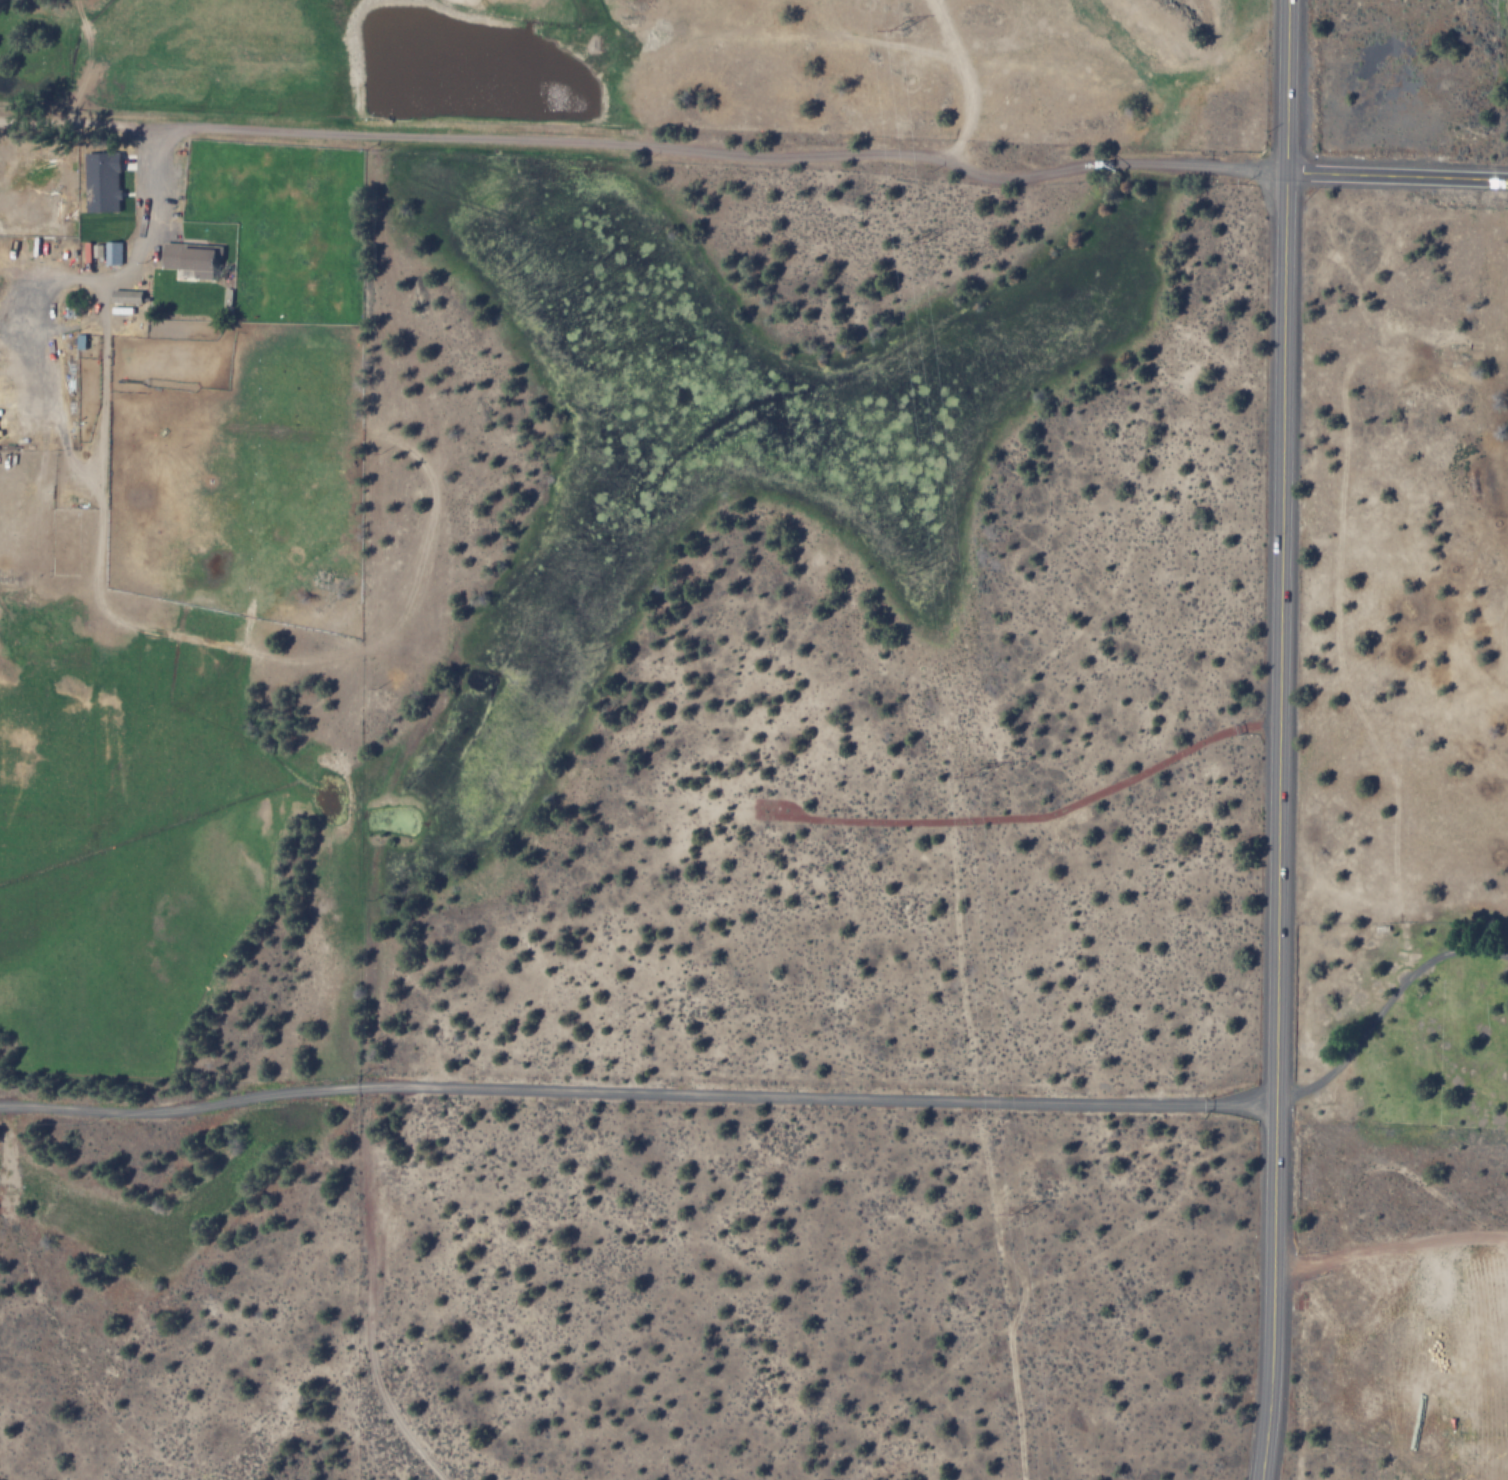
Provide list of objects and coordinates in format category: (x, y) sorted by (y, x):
power tower: (892, 29)
crop: (707, 65)
road: (719, 155)
road: (1397, 177)
building: (105, 182)
power tower: (910, 242)
building: (113, 253)
building: (194, 258)
building: (128, 296)
building: (81, 341)
crop: (122, 625)
road: (1280, 740)
power tower: (967, 777)
road: (637, 1092)
power tower: (1015, 1213)
road: (1016, 1308)
road: (370, 1353)

